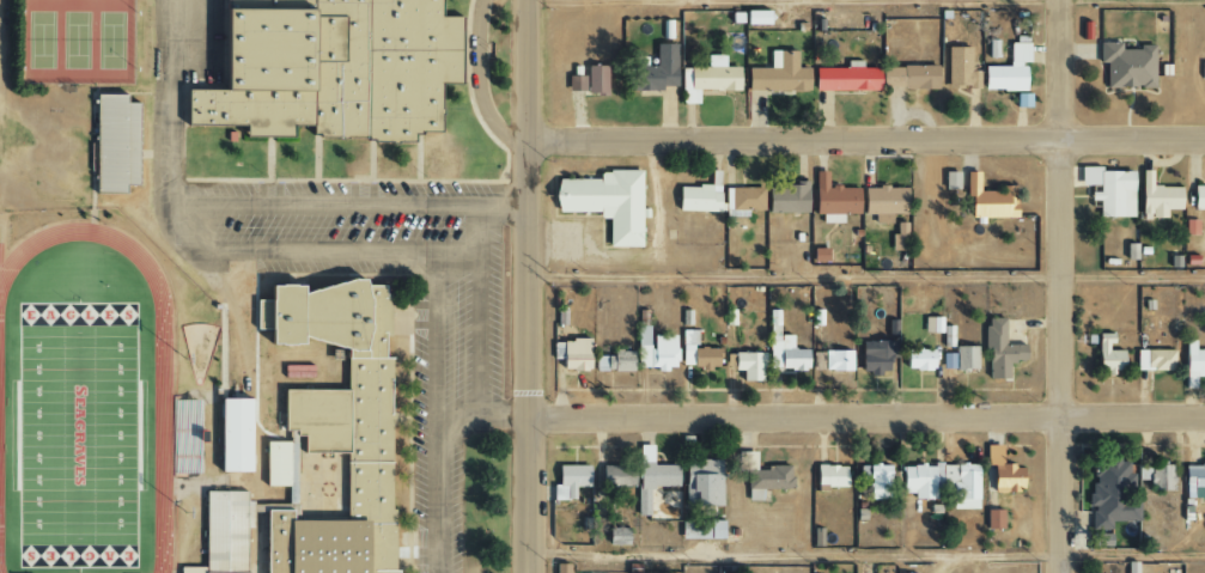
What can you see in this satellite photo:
road: (868, 1)
building: (754, 17)
park: (79, 41)
building: (1126, 66)
building: (335, 68)
building: (958, 68)
building: (1008, 69)
building: (655, 71)
building: (777, 73)
building: (907, 77)
building: (706, 78)
building: (845, 78)
building: (595, 79)
building: (578, 83)
road: (479, 85)
road: (868, 136)
building: (112, 142)
building: (950, 179)
building: (1108, 190)
building: (699, 195)
building: (832, 196)
building: (1156, 197)
building: (1198, 197)
building: (786, 199)
building: (987, 200)
building: (744, 201)
building: (883, 202)
road: (251, 205)
parking lot: (352, 225)
building: (899, 237)
road: (340, 249)
building: (818, 255)
road: (868, 276)
road: (531, 286)
road: (1058, 286)
building: (257, 315)
building: (931, 324)
building: (948, 336)
building: (653, 349)
building: (999, 349)
building: (695, 352)
building: (784, 353)
building: (1106, 353)
building: (570, 354)
building: (872, 356)
building: (960, 358)
building: (917, 359)
building: (835, 360)
building: (1154, 360)
building: (613, 361)
building: (1192, 364)
building: (747, 365)
stadium: (112, 407)
road: (868, 415)
building: (341, 428)
building: (231, 434)
building: (183, 435)
road: (434, 450)
building: (275, 463)
building: (617, 475)
building: (762, 476)
building: (829, 476)
building: (1157, 477)
building: (1005, 478)
building: (568, 480)
building: (878, 481)
building: (1193, 481)
building: (652, 482)
building: (701, 482)
building: (942, 482)
building: (1112, 494)
building: (993, 519)
building: (700, 529)
building: (226, 530)
building: (615, 536)
building: (1099, 540)
road: (866, 555)
building: (1131, 567)
building: (560, 568)
building: (211, 572)

